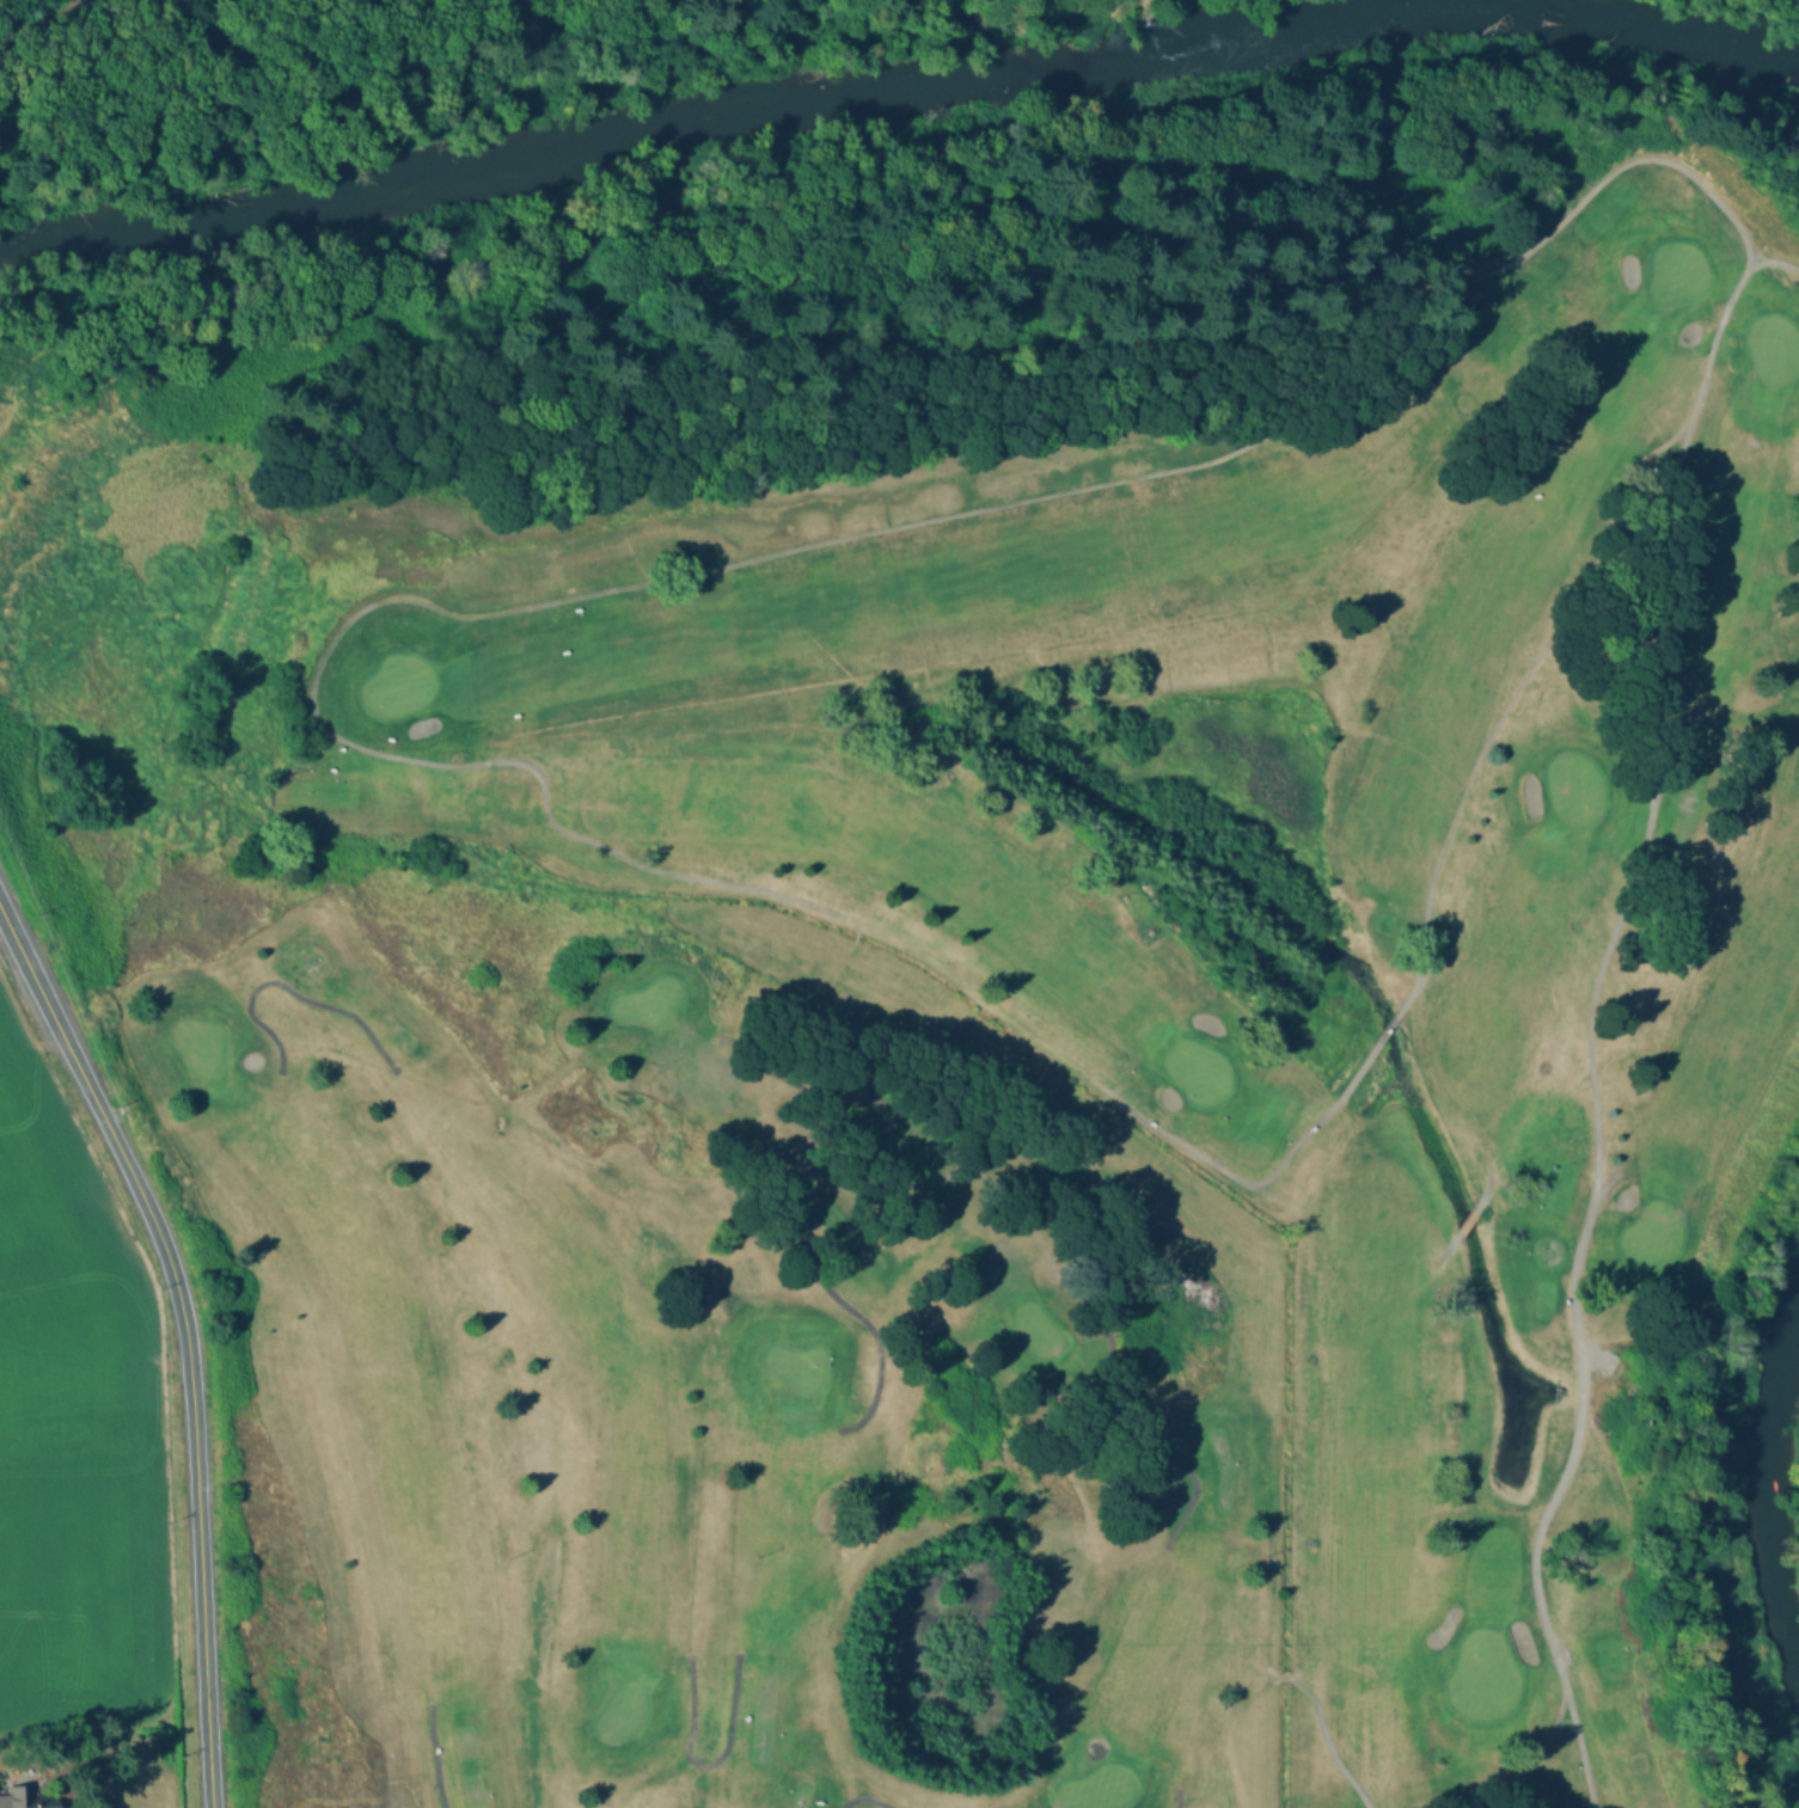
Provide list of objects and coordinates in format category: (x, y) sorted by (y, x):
road: (1183, 1)
road: (736, 10)
road: (44, 22)
river: (1583, 24)
road: (204, 47)
park: (384, 73)
road: (323, 79)
river: (674, 124)
road: (1755, 256)
park: (1772, 349)
road: (1577, 609)
road: (446, 613)
park: (396, 685)
park: (1571, 787)
road: (1610, 796)
park: (955, 937)
road: (287, 988)
road: (1387, 1023)
road: (1520, 1054)
park: (1195, 1068)
road: (1486, 1185)
road: (1464, 1220)
crop: (60, 1244)
road: (1445, 1246)
road: (185, 1337)
road: (1579, 1387)
road: (518, 1395)
river: (1776, 1503)
crop: (82, 1536)
park: (1480, 1675)
road: (1180, 1702)
road: (1320, 1728)
road: (1537, 1749)
road: (434, 1755)
road: (703, 1764)
road: (862, 1795)
road: (1176, 1797)
building: (33, 1798)
road: (614, 1807)

